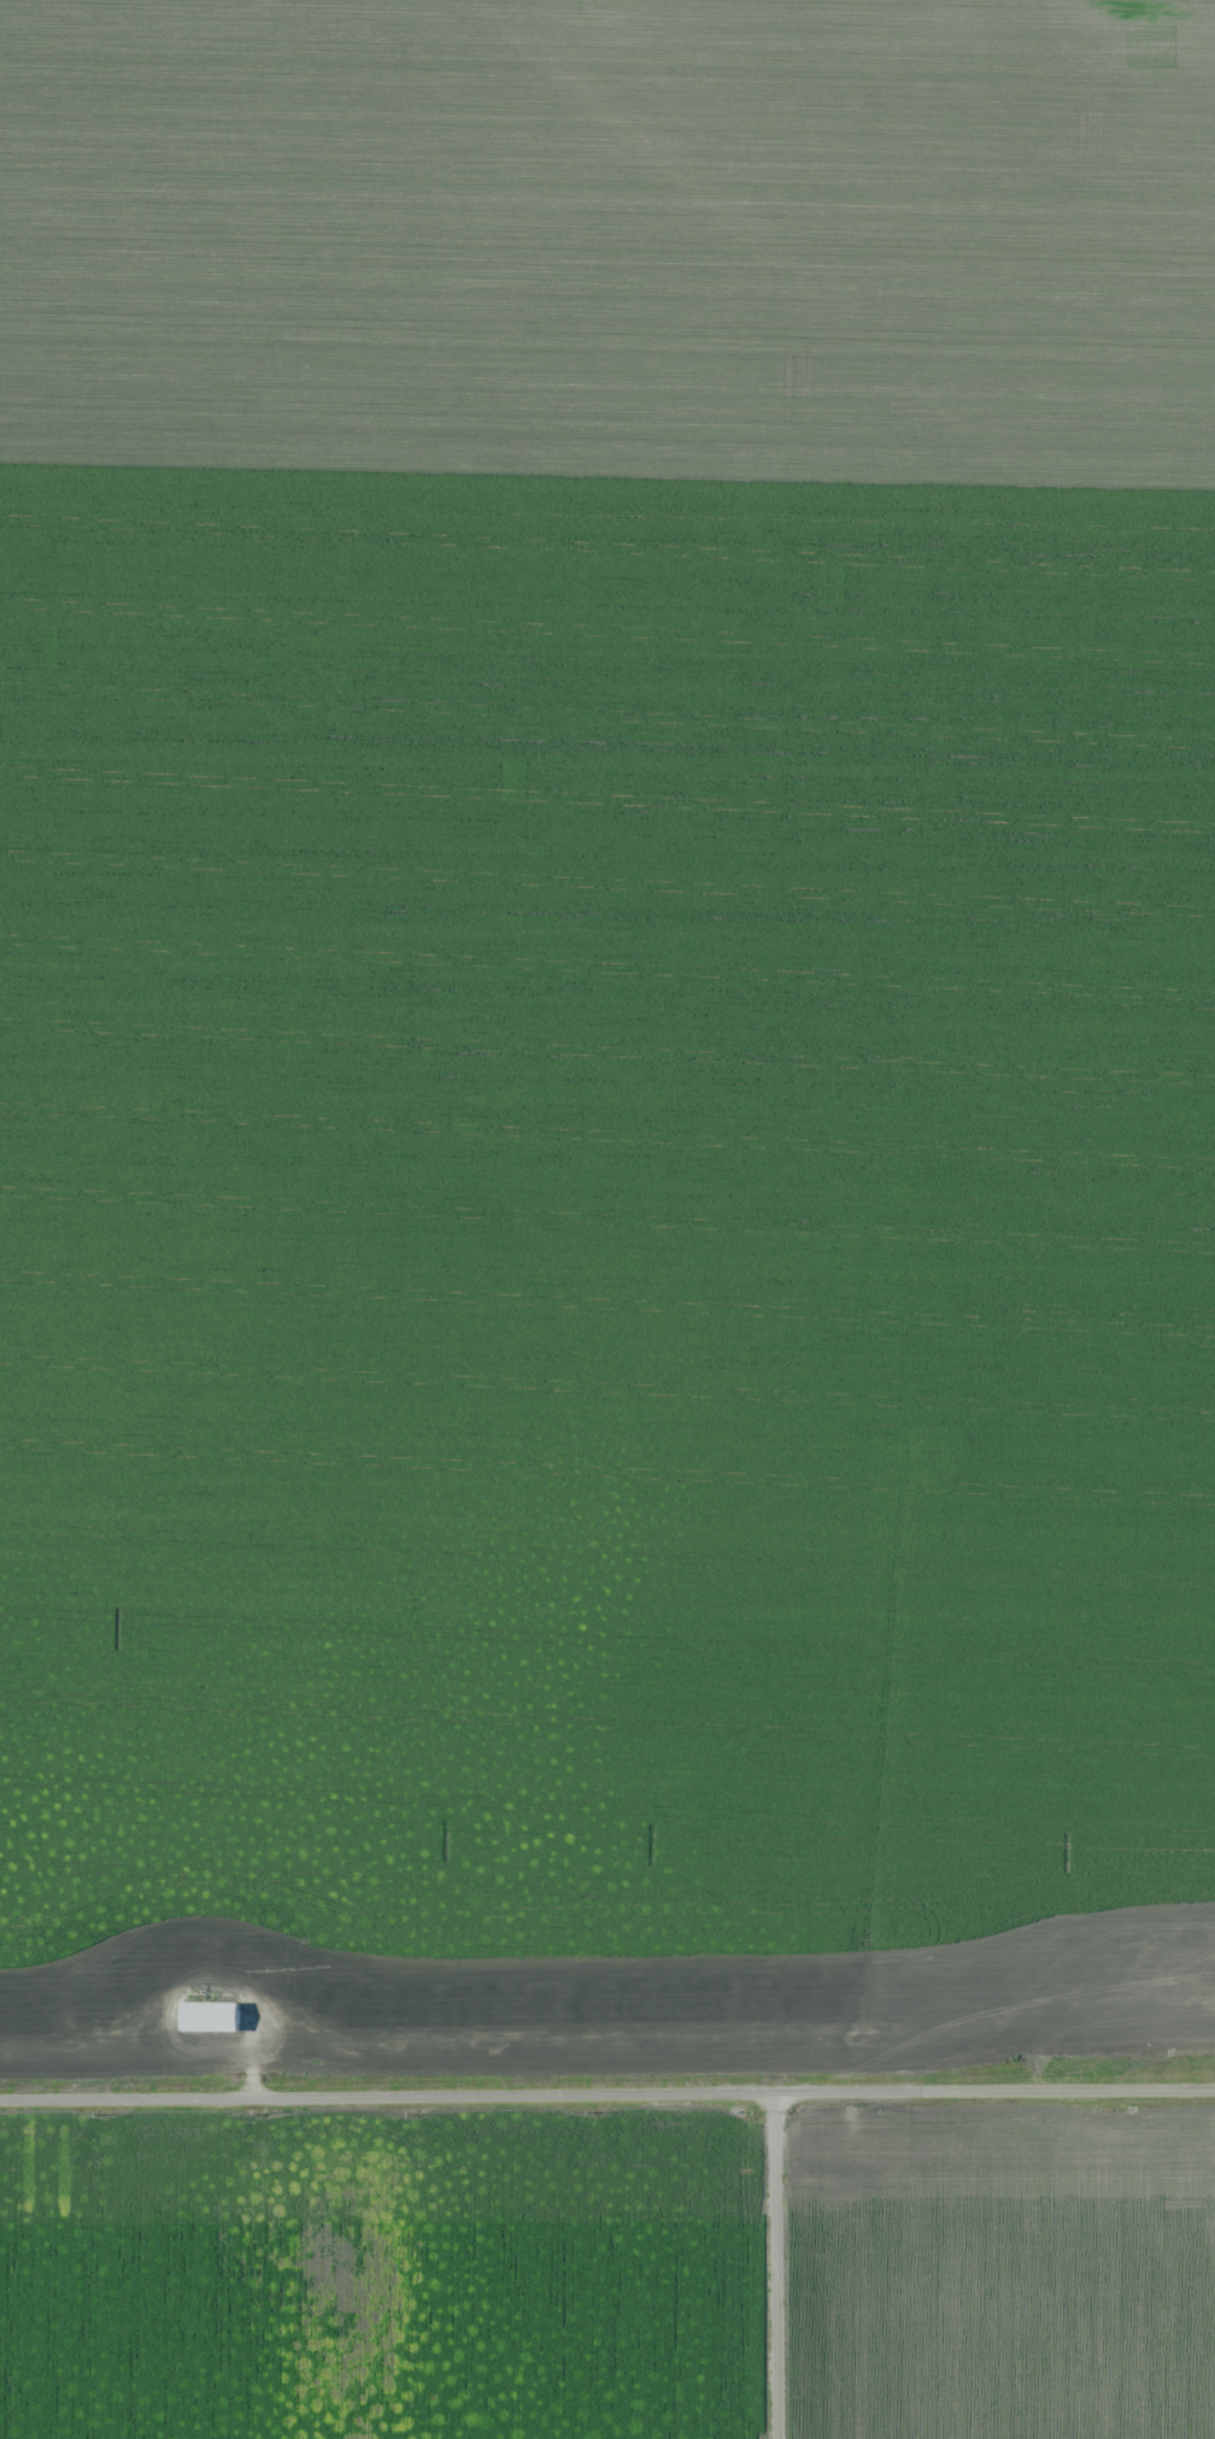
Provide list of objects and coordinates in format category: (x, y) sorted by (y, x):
building: (211, 2016)
road: (607, 2099)
road: (777, 2269)

